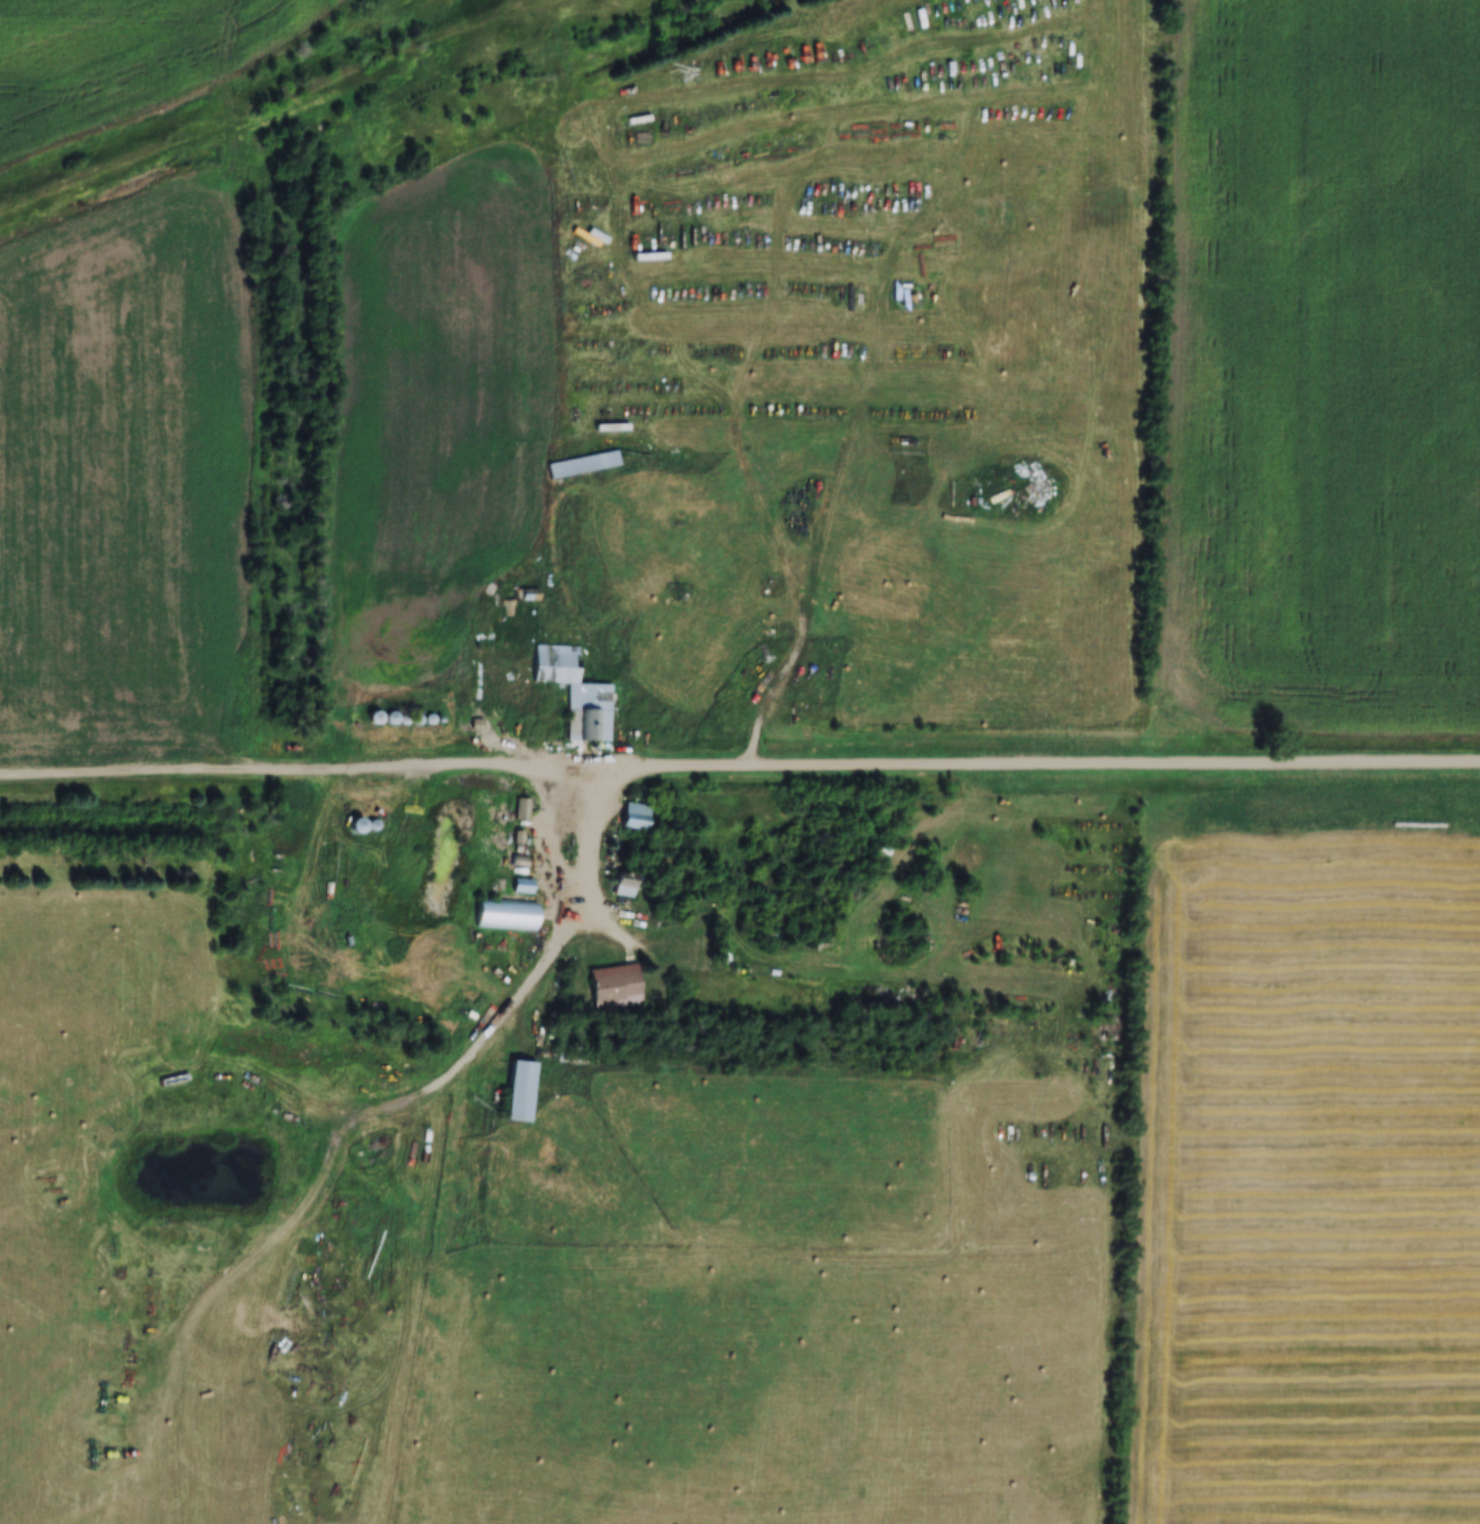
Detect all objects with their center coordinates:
building: (638, 118)
building: (642, 136)
building: (582, 463)
building: (518, 600)
building: (575, 691)
building: (374, 716)
road: (1025, 765)
road: (285, 773)
building: (522, 809)
building: (634, 815)
building: (356, 824)
road: (553, 840)
building: (623, 884)
building: (522, 885)
road: (576, 899)
building: (506, 915)
building: (614, 986)
building: (1107, 1029)
building: (519, 1090)

